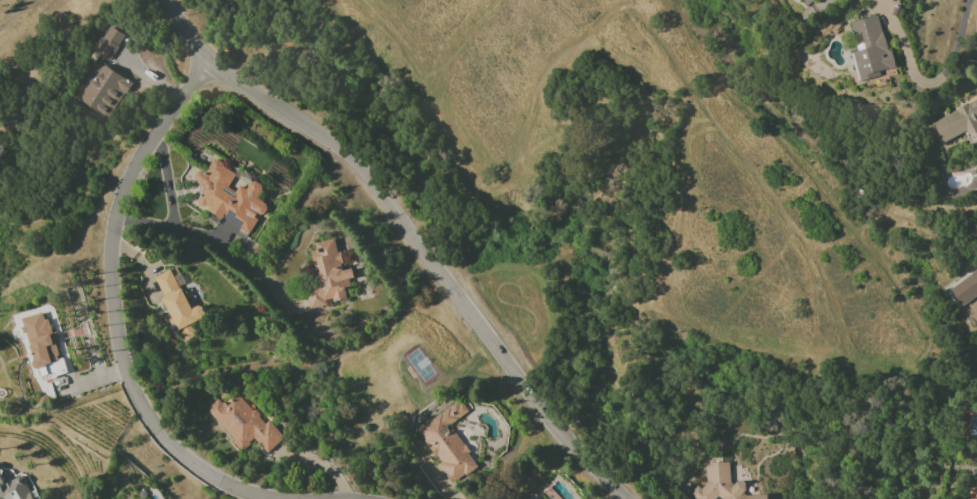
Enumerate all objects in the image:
building: (806, 1)
road: (26, 14)
building: (869, 48)
road: (955, 51)
building: (100, 79)
building: (958, 123)
road: (166, 182)
building: (229, 196)
road: (409, 233)
road: (208, 243)
building: (327, 275)
building: (177, 305)
road: (113, 309)
building: (40, 340)
building: (244, 424)
building: (721, 484)
building: (974, 498)

